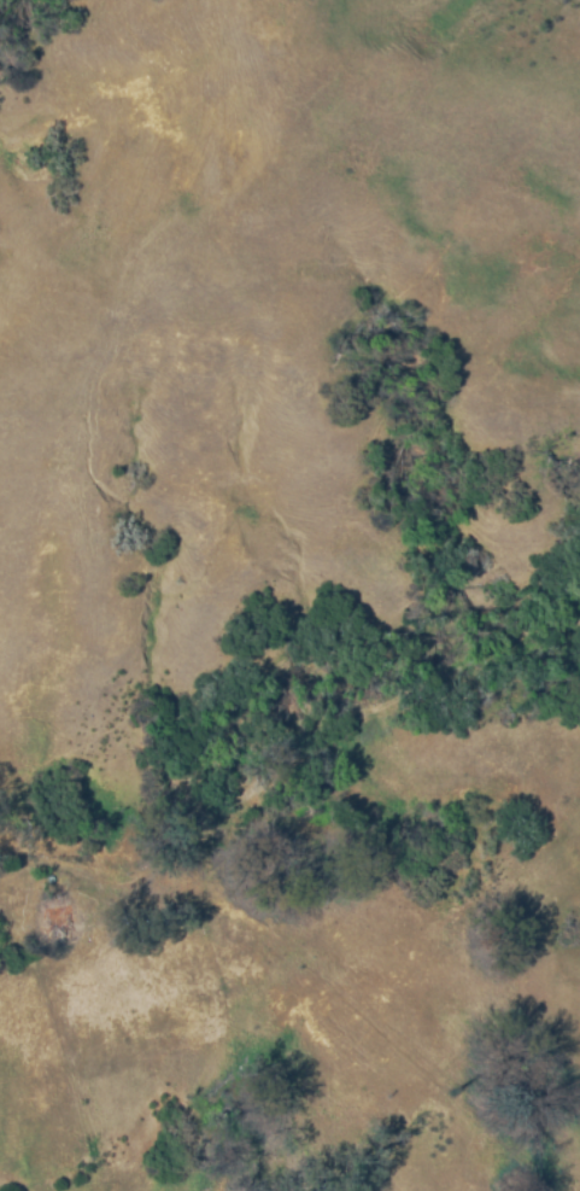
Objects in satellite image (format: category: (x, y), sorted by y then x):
road: (289, 751)
road: (295, 904)
building: (60, 918)

